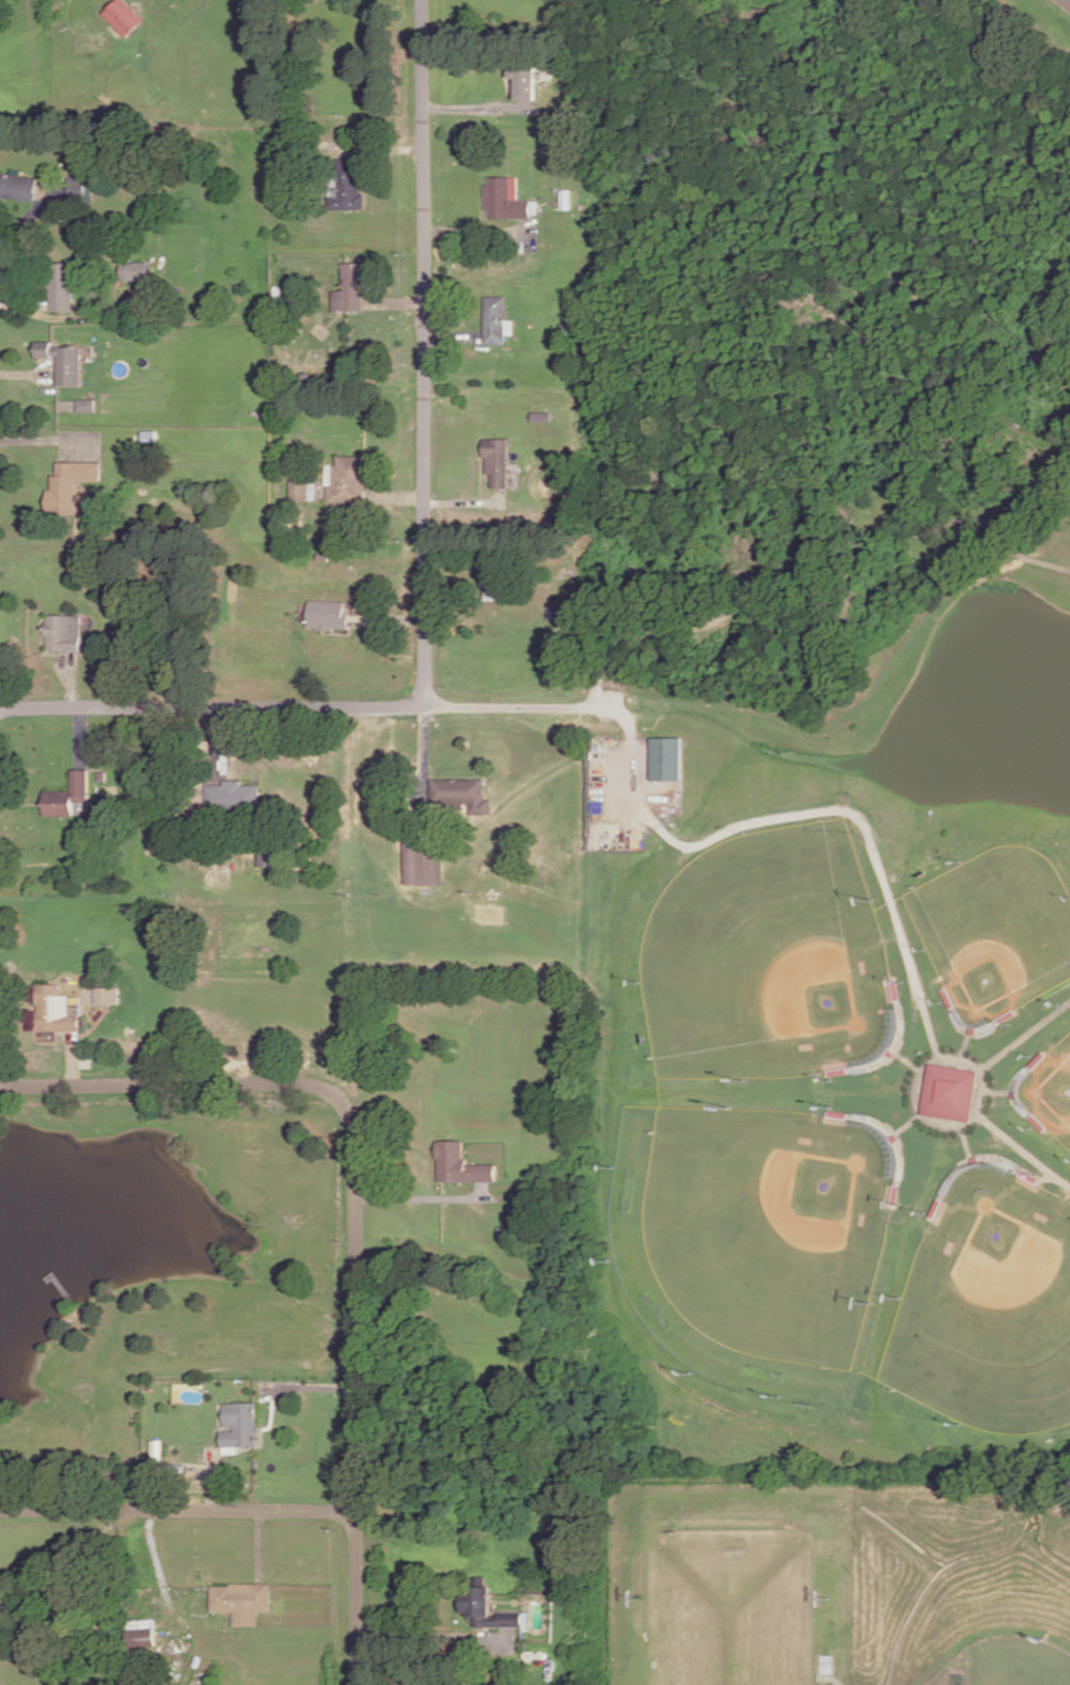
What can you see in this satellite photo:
building: (123, 14)
building: (521, 77)
road: (474, 106)
road: (380, 146)
building: (349, 184)
building: (18, 185)
building: (84, 188)
building: (565, 197)
building: (501, 198)
building: (550, 202)
road: (29, 227)
road: (477, 232)
building: (135, 268)
building: (63, 285)
building: (353, 287)
road: (23, 302)
road: (397, 302)
building: (493, 317)
road: (452, 334)
road: (426, 351)
building: (65, 359)
road: (24, 372)
building: (87, 401)
building: (151, 432)
road: (44, 437)
building: (497, 458)
building: (350, 478)
building: (300, 482)
building: (69, 483)
road: (398, 495)
road: (461, 500)
road: (1005, 544)
building: (323, 554)
building: (493, 581)
building: (329, 612)
building: (559, 612)
road: (390, 617)
building: (64, 629)
road: (71, 676)
road: (285, 704)
park: (815, 731)
road: (81, 733)
road: (222, 734)
road: (426, 736)
road: (632, 739)
building: (664, 756)
building: (463, 791)
building: (67, 792)
building: (234, 794)
building: (264, 853)
building: (423, 860)
road: (894, 903)
park: (999, 929)
park: (771, 960)
building: (109, 992)
building: (57, 1009)
road: (927, 1057)
road: (74, 1058)
road: (990, 1080)
road: (170, 1083)
building: (951, 1091)
park: (1054, 1091)
road: (929, 1100)
road: (969, 1119)
road: (1011, 1133)
building: (464, 1161)
road: (422, 1196)
park: (753, 1240)
road: (49, 1269)
park: (991, 1308)
road: (358, 1388)
building: (243, 1421)
building: (158, 1447)
road: (214, 1477)
road: (178, 1507)
road: (260, 1543)
building: (244, 1598)
building: (490, 1605)
building: (142, 1626)
road: (433, 1634)
park: (1021, 1662)

